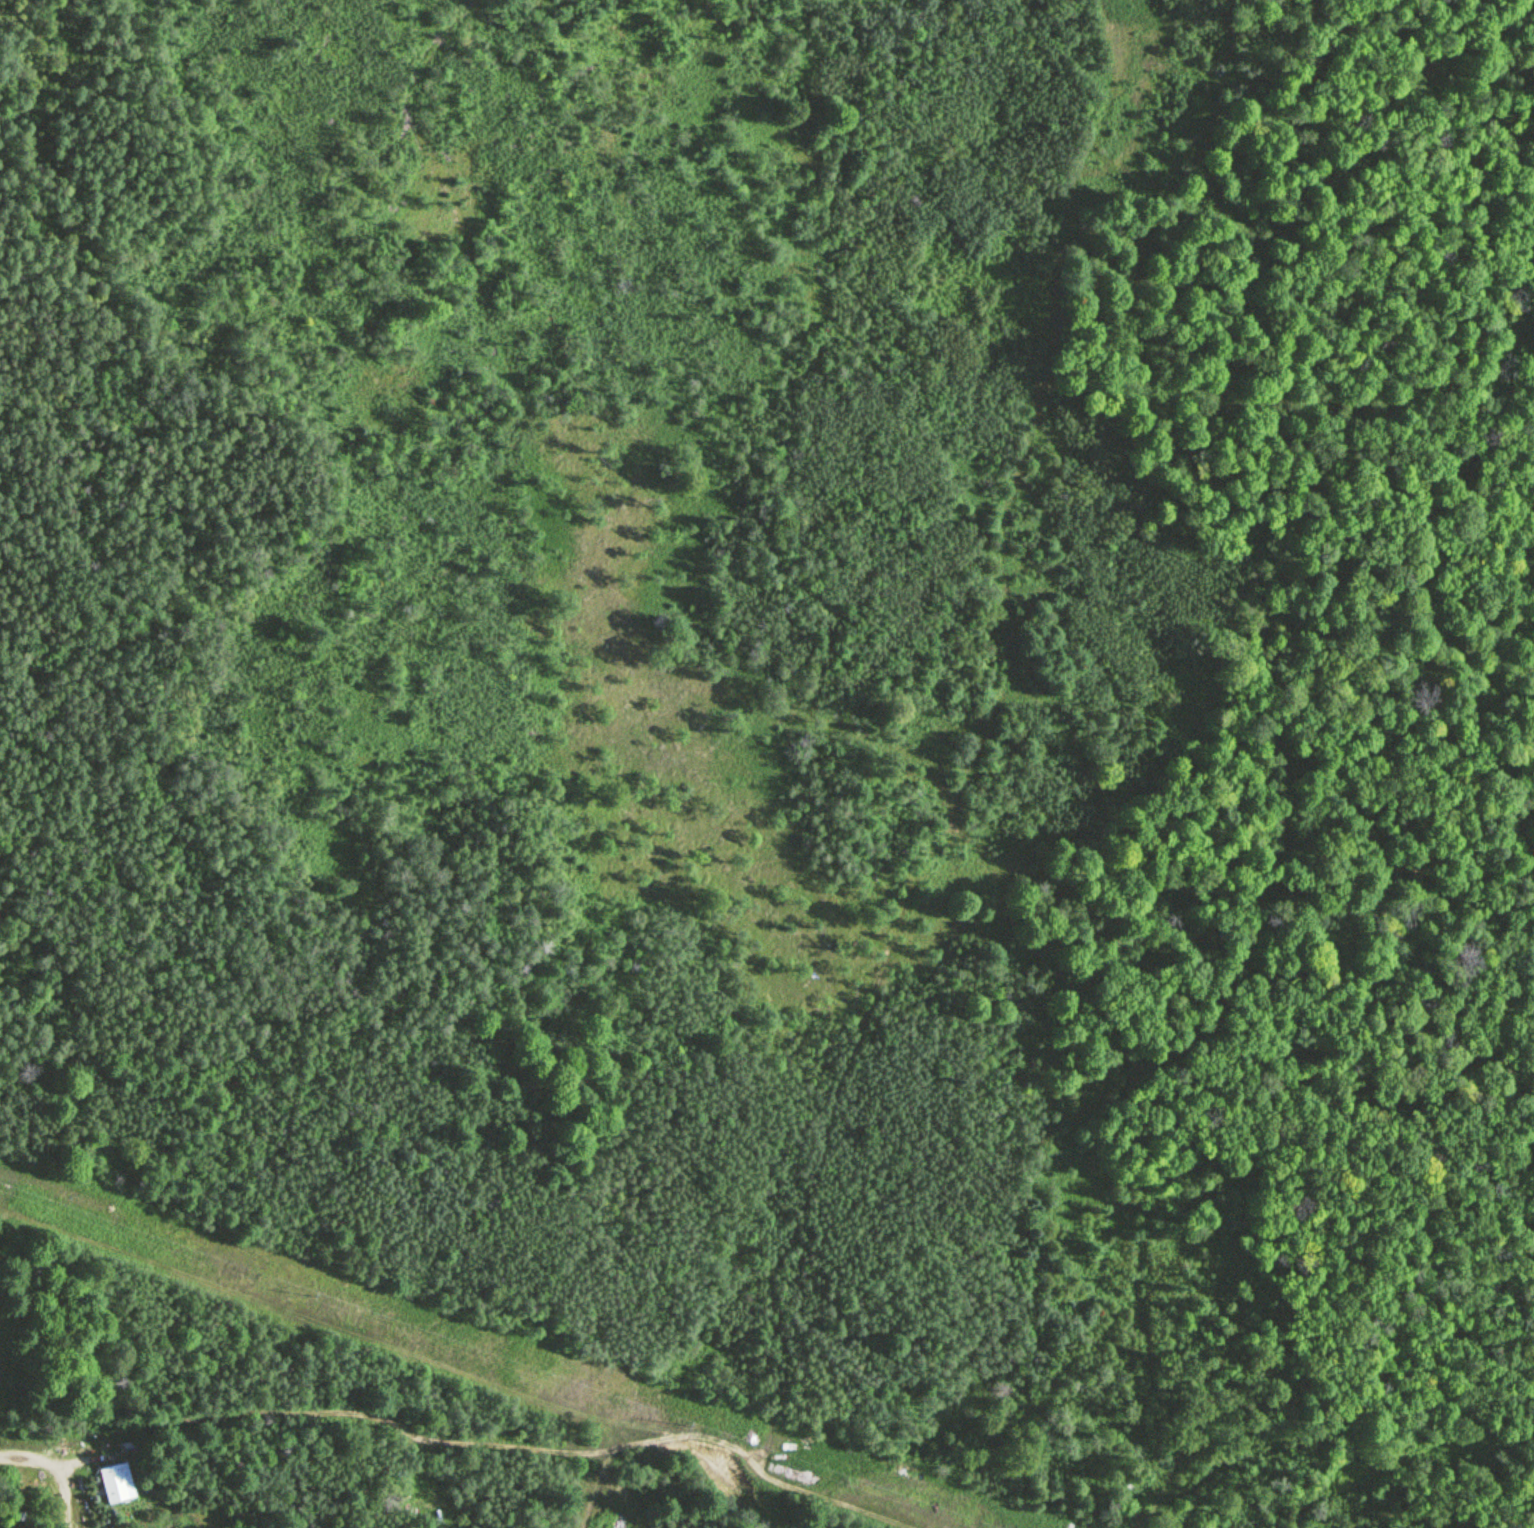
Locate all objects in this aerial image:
road: (945, 815)
road: (394, 1432)
road: (23, 1455)
building: (116, 1484)
road: (593, 1489)
road: (61, 1490)
building: (662, 1493)

